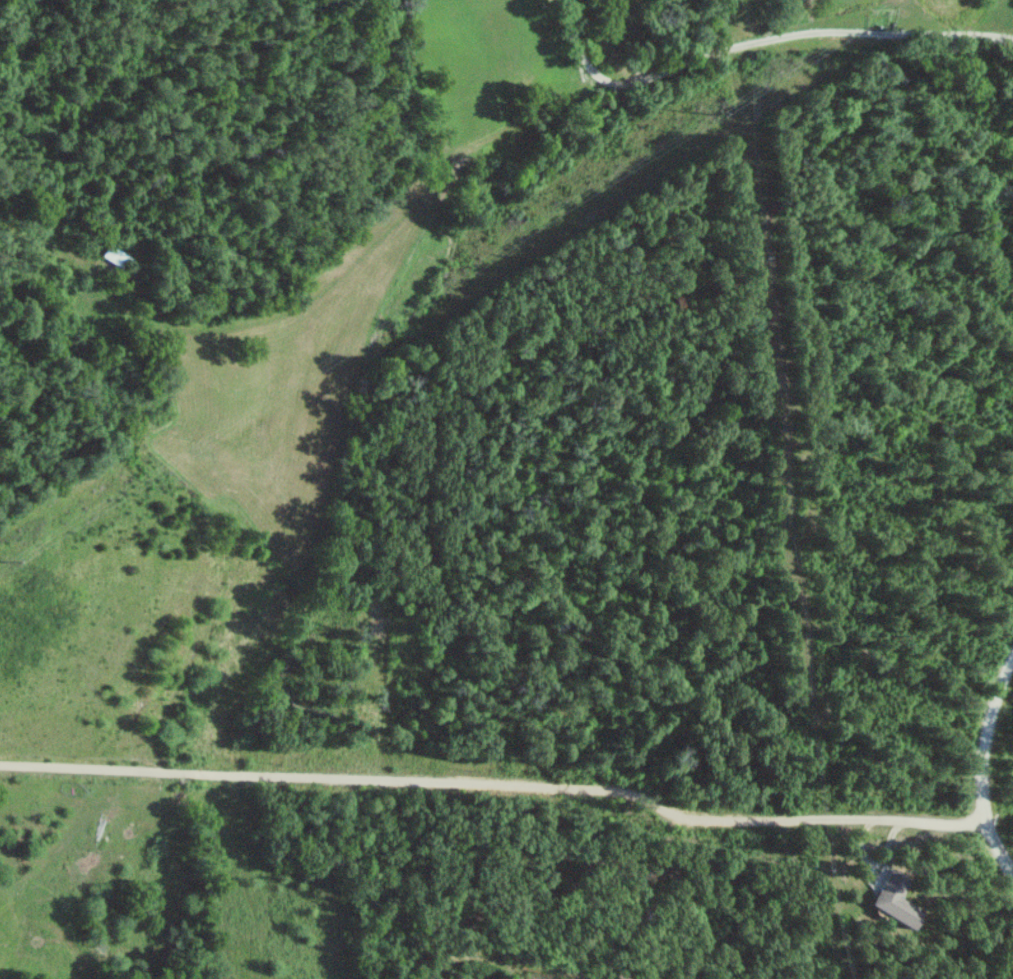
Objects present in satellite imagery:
road: (969, 19)
road: (980, 35)
road: (725, 45)
road: (983, 763)
road: (498, 781)
building: (894, 900)

